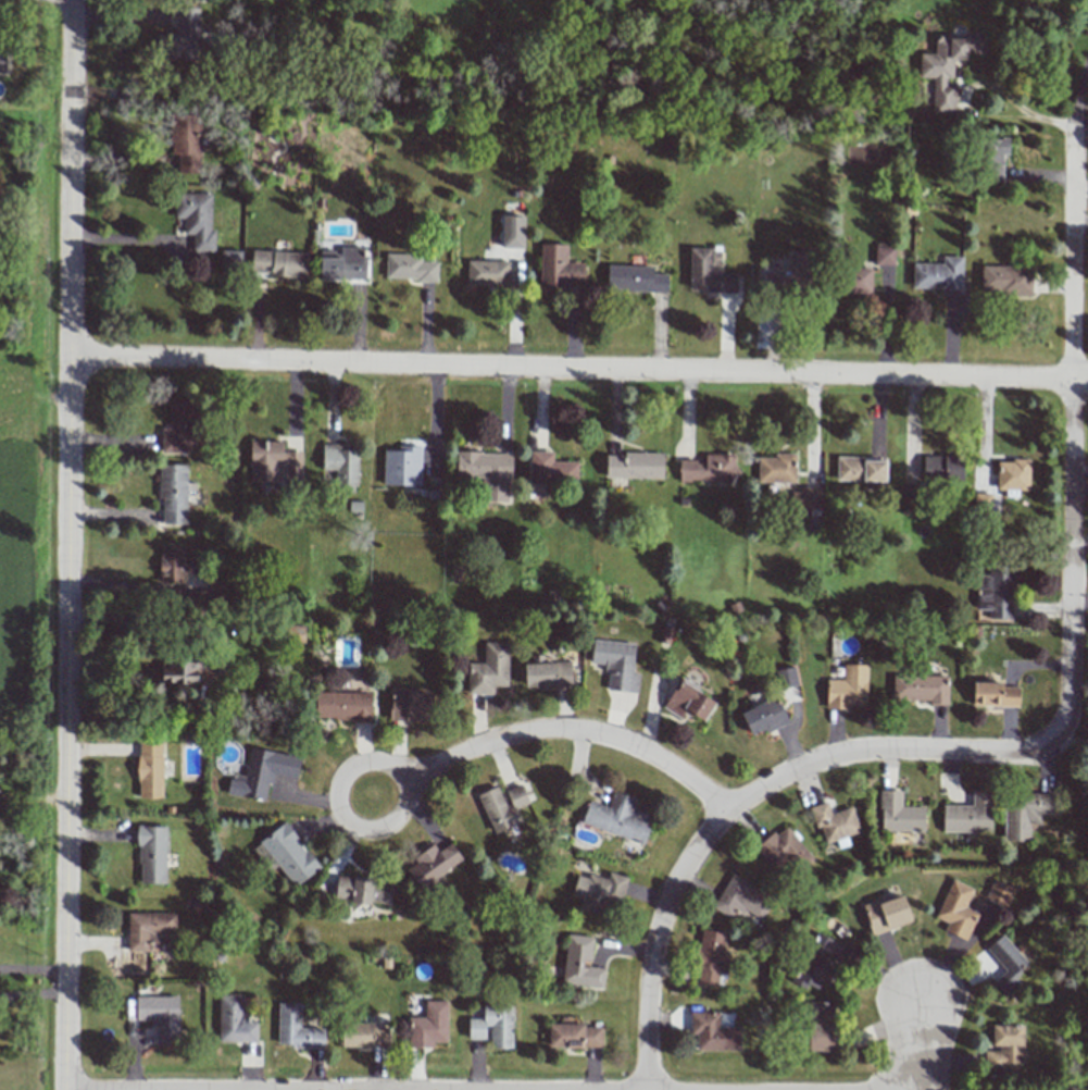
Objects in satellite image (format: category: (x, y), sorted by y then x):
building: (180, 37)
building: (948, 66)
road: (1075, 89)
road: (1016, 117)
building: (186, 141)
building: (992, 160)
building: (196, 220)
building: (512, 232)
road: (127, 237)
building: (884, 255)
building: (230, 261)
building: (279, 263)
building: (342, 264)
building: (409, 268)
building: (559, 268)
building: (709, 272)
building: (487, 273)
building: (939, 275)
building: (789, 277)
building: (635, 278)
building: (1006, 280)
building: (855, 281)
road: (578, 368)
building: (180, 429)
road: (1068, 442)
building: (341, 462)
building: (273, 466)
building: (402, 466)
building: (634, 466)
building: (709, 468)
building: (942, 468)
building: (776, 469)
building: (861, 469)
building: (551, 470)
building: (487, 473)
building: (1012, 476)
building: (173, 493)
building: (806, 497)
building: (981, 503)
road: (68, 545)
building: (171, 563)
building: (995, 592)
building: (616, 665)
building: (489, 669)
building: (180, 671)
road: (229, 673)
building: (548, 674)
building: (786, 678)
building: (847, 688)
building: (921, 689)
building: (993, 694)
building: (688, 702)
building: (410, 705)
building: (342, 706)
building: (763, 717)
road: (467, 748)
building: (149, 769)
building: (263, 772)
road: (33, 791)
road: (751, 795)
building: (502, 806)
building: (1025, 813)
building: (899, 814)
building: (968, 815)
building: (617, 818)
building: (834, 823)
building: (783, 852)
building: (151, 854)
building: (289, 854)
building: (433, 864)
building: (363, 890)
building: (599, 892)
building: (999, 892)
building: (741, 899)
building: (956, 911)
building: (887, 914)
building: (148, 929)
building: (710, 958)
building: (824, 962)
building: (580, 963)
building: (1005, 964)
road: (33, 969)
road: (33, 998)
building: (159, 1016)
building: (234, 1020)
building: (428, 1026)
building: (493, 1026)
building: (820, 1026)
building: (296, 1029)
building: (713, 1032)
building: (364, 1036)
building: (575, 1036)
road: (931, 1045)
building: (1004, 1048)

